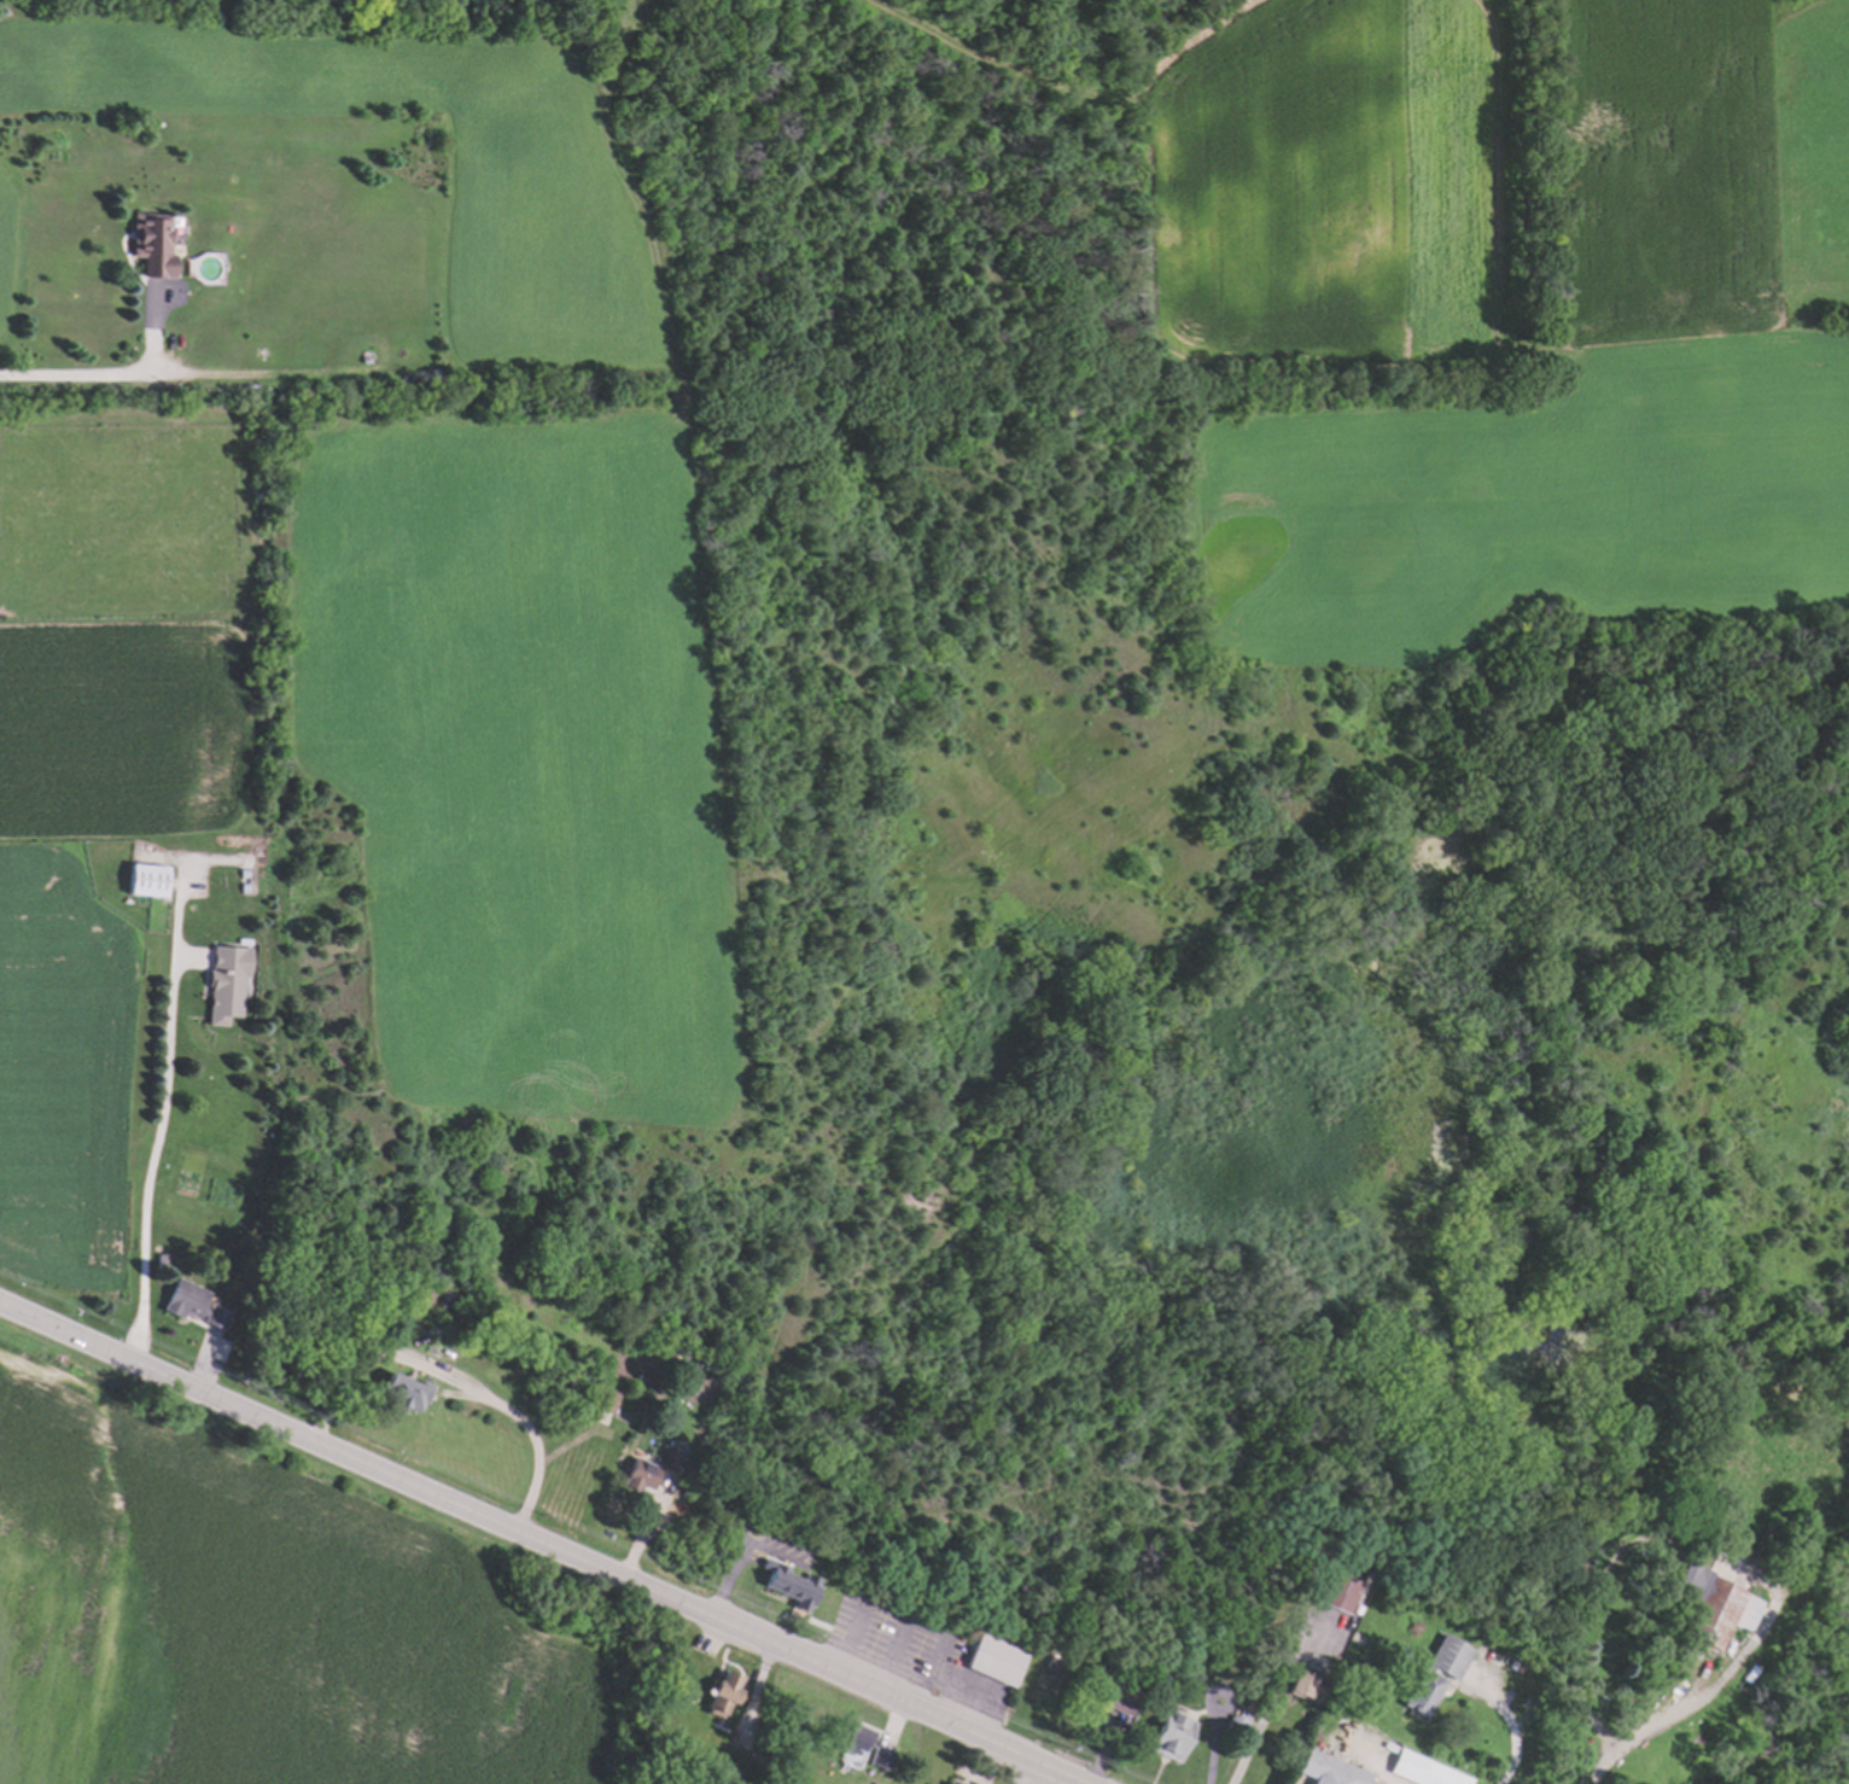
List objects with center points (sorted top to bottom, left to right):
building: (152, 246)
road: (87, 373)
building: (142, 875)
building: (224, 976)
road: (152, 1159)
building: (157, 1261)
building: (192, 1302)
building: (389, 1306)
building: (430, 1349)
road: (456, 1381)
building: (401, 1389)
building: (605, 1398)
building: (667, 1457)
building: (636, 1471)
road: (538, 1543)
building: (1341, 1580)
building: (786, 1584)
building: (1716, 1607)
road: (908, 1619)
parking lot: (911, 1651)
road: (888, 1655)
building: (995, 1658)
building: (1451, 1679)
building: (1305, 1683)
road: (1717, 1685)
building: (717, 1691)
building: (1107, 1696)
road: (1268, 1712)
road: (1513, 1724)
building: (1233, 1727)
building: (1171, 1735)
building: (848, 1738)
building: (877, 1760)
building: (1422, 1768)
building: (1328, 1771)
building: (951, 1783)

